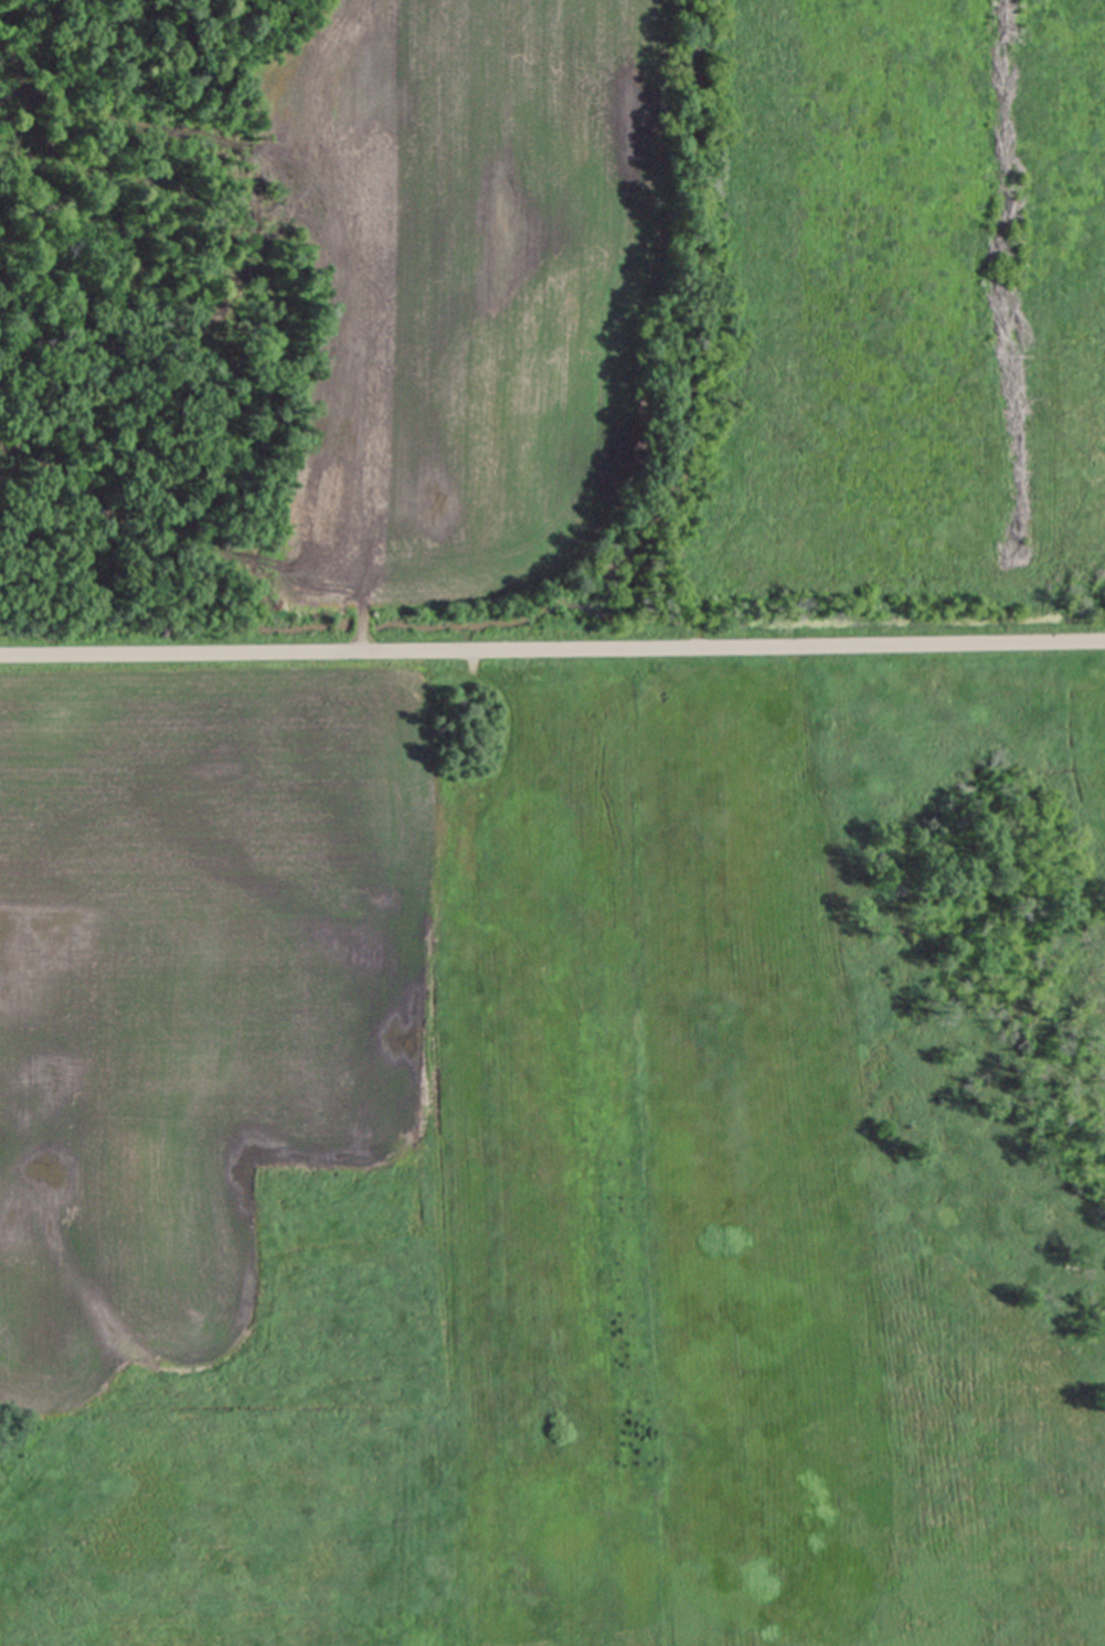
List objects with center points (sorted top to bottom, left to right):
road: (552, 647)

